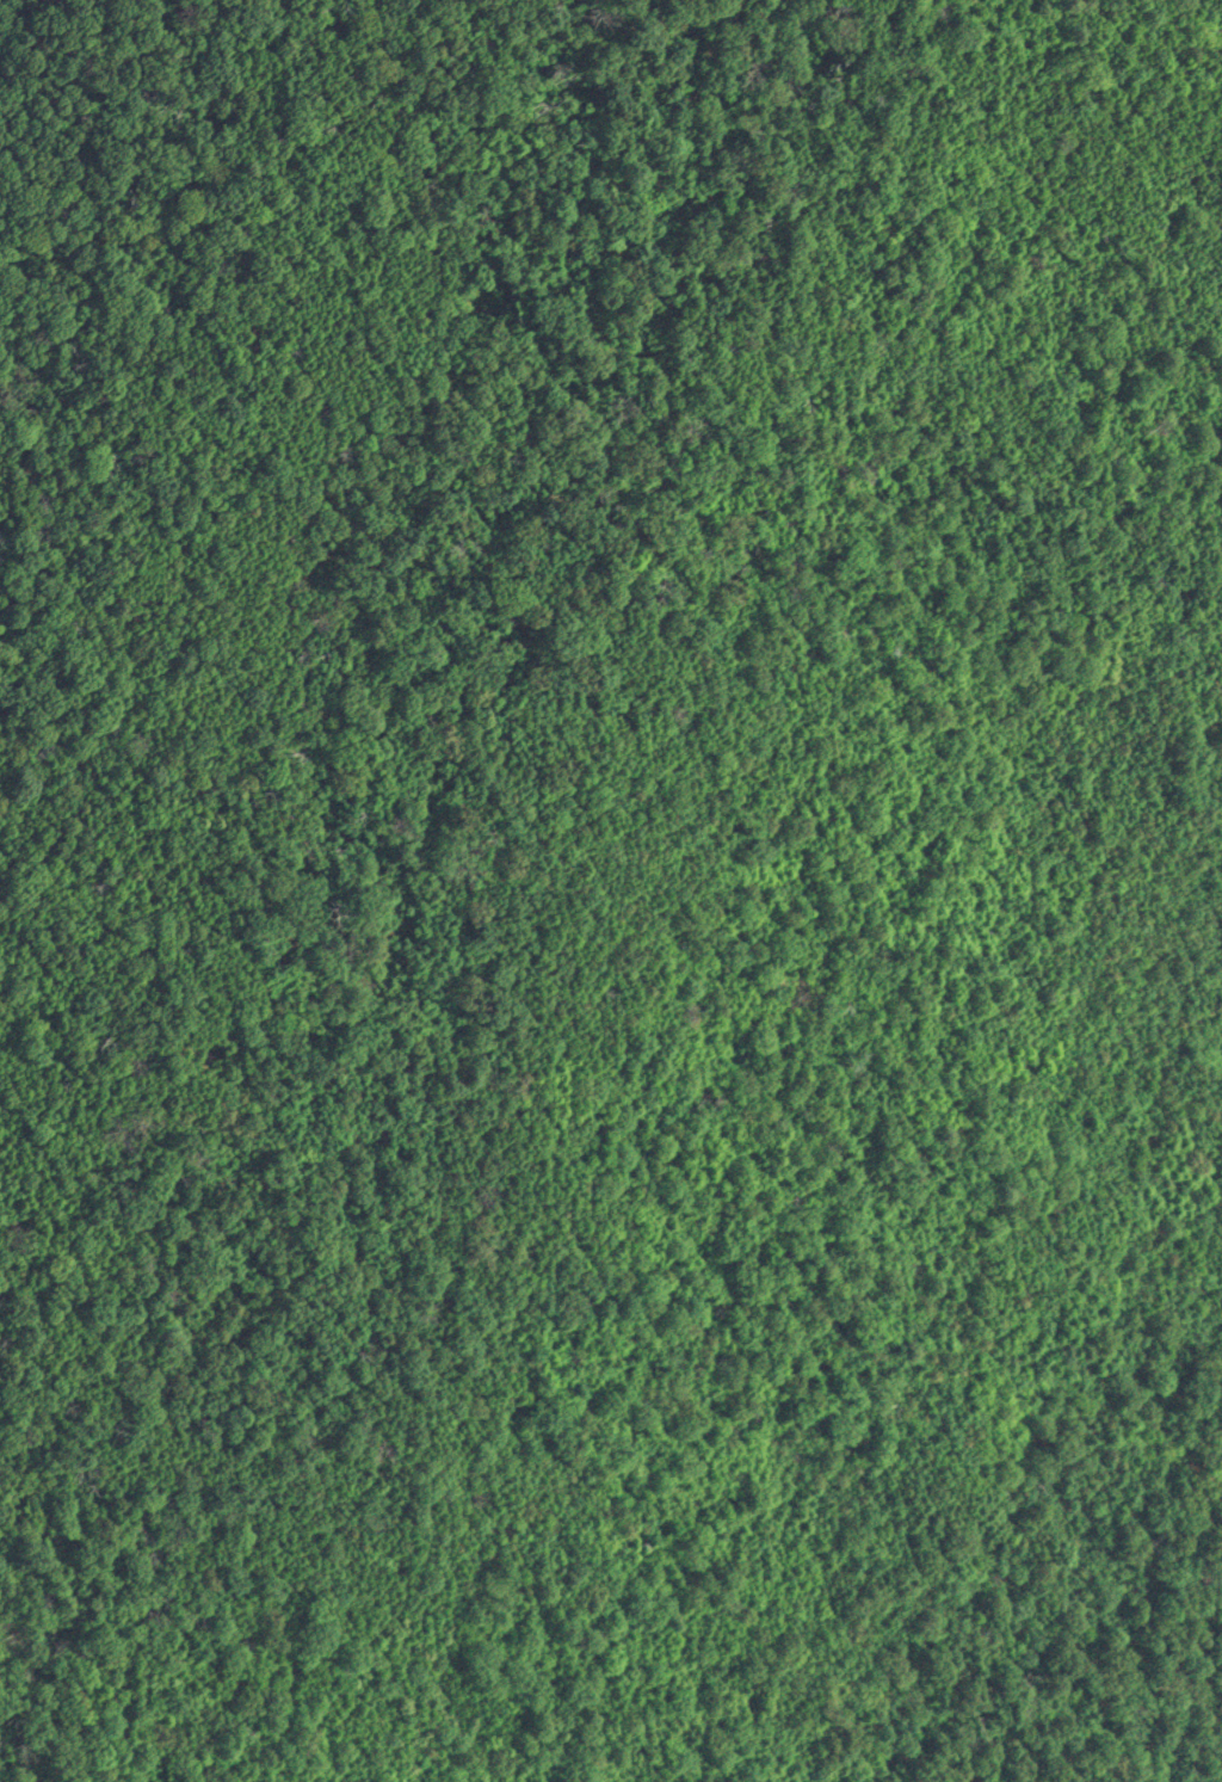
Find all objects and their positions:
road: (728, 118)
road: (461, 633)
road: (140, 1417)

